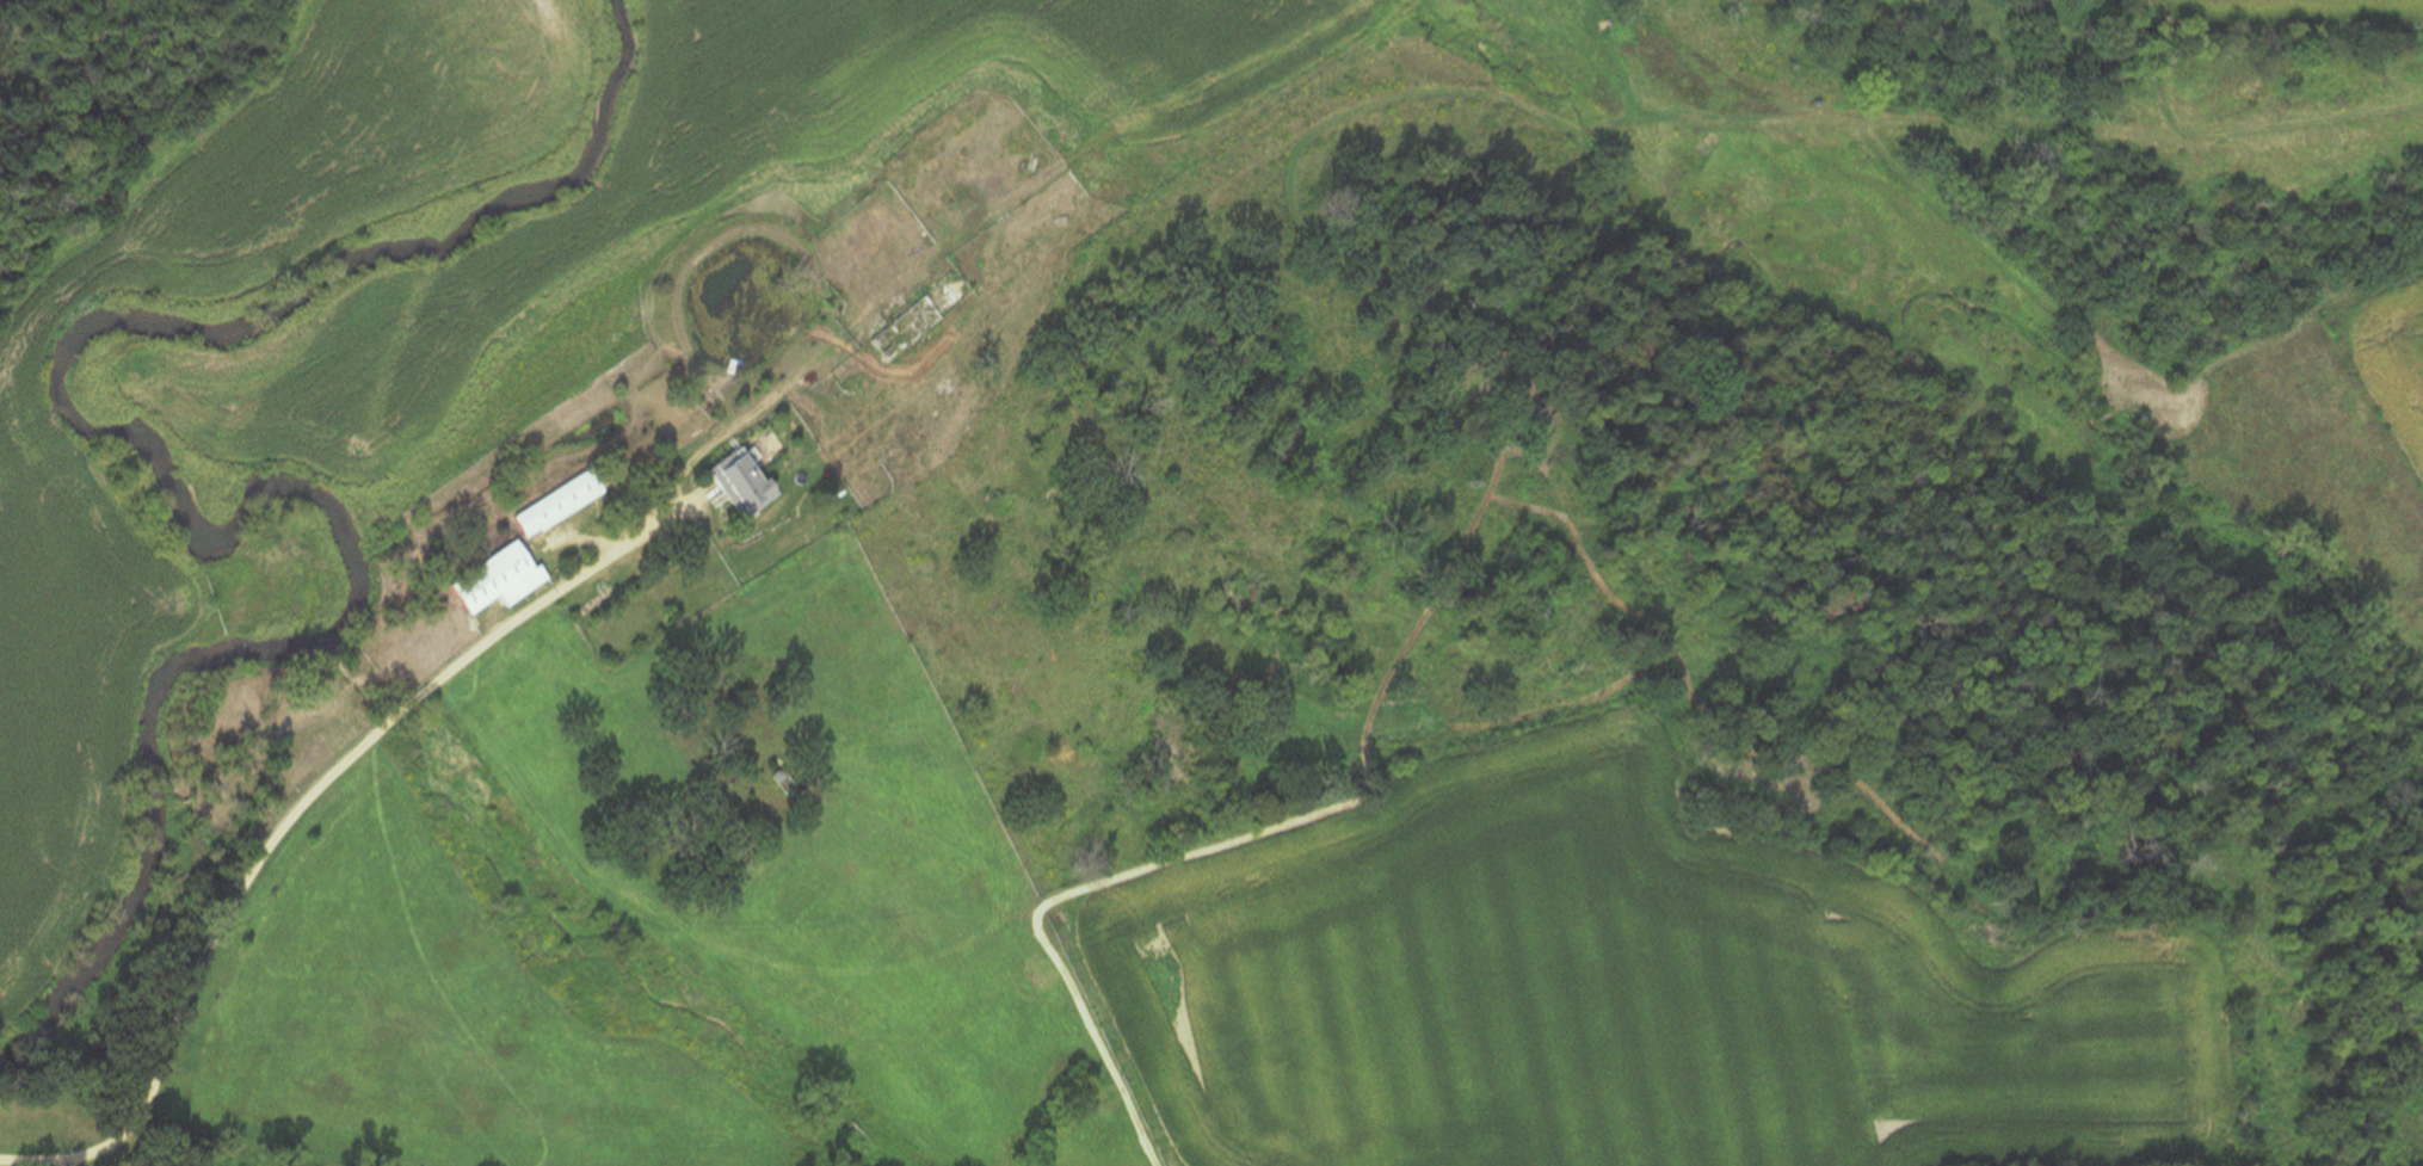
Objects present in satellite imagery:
building: (912, 334)
building: (750, 482)
building: (563, 505)
building: (503, 579)
road: (491, 638)

